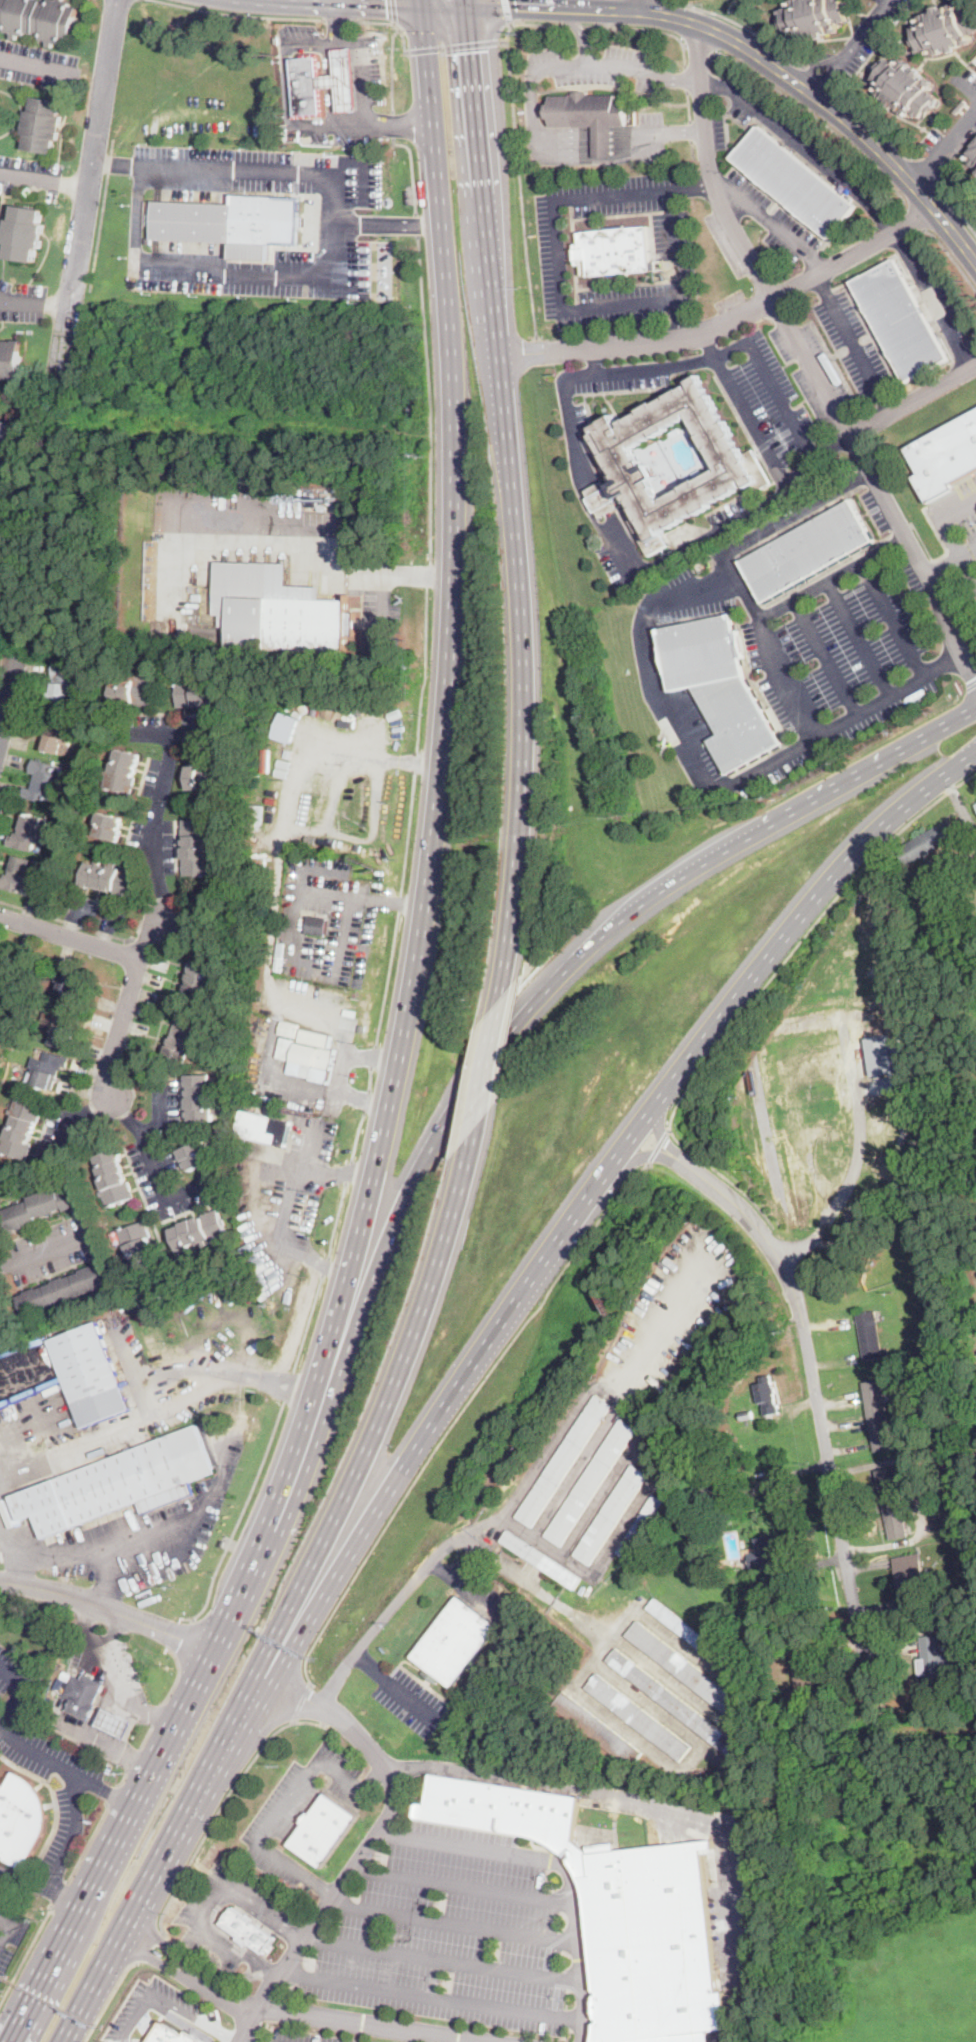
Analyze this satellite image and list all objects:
road: (497, 3)
road: (334, 4)
traffic signals: (514, 6)
road: (641, 6)
traffic signals: (385, 7)
road: (444, 10)
road: (487, 10)
road: (506, 11)
road: (243, 12)
road: (394, 12)
building: (814, 17)
road: (339, 18)
building: (40, 19)
road: (339, 22)
road: (391, 22)
road: (574, 25)
road: (576, 25)
road: (588, 25)
road: (740, 25)
road: (603, 26)
road: (599, 28)
building: (944, 29)
road: (659, 30)
road: (854, 39)
parking lot: (863, 41)
road: (359, 43)
road: (457, 46)
road: (699, 49)
traffic signals: (474, 51)
building: (975, 59)
parking lot: (39, 64)
road: (36, 65)
road: (774, 66)
parking lot: (598, 68)
road: (392, 69)
road: (531, 74)
road: (686, 76)
road: (672, 77)
road: (819, 77)
building: (344, 81)
gas station: (344, 81)
road: (286, 84)
road: (814, 84)
building: (307, 87)
building: (904, 88)
road: (966, 88)
road: (689, 105)
building: (960, 107)
building: (586, 110)
road: (818, 117)
road: (872, 120)
road: (331, 123)
road: (392, 124)
building: (42, 125)
road: (397, 125)
parking lot: (959, 127)
road: (592, 129)
road: (668, 131)
parking lot: (718, 132)
road: (591, 134)
parking lot: (796, 137)
parking lot: (650, 138)
building: (603, 141)
road: (591, 142)
building: (285, 146)
road: (805, 147)
road: (591, 148)
road: (946, 150)
road: (517, 151)
road: (590, 155)
building: (971, 155)
road: (113, 161)
road: (136, 164)
road: (237, 168)
road: (411, 168)
parking lot: (29, 173)
road: (924, 173)
road: (45, 177)
road: (485, 177)
building: (793, 182)
road: (693, 188)
road: (88, 192)
road: (717, 197)
road: (957, 212)
road: (136, 214)
road: (919, 217)
parking lot: (772, 220)
parking lot: (260, 221)
road: (387, 221)
road: (416, 222)
building: (233, 223)
road: (334, 224)
road: (772, 225)
road: (96, 229)
road: (378, 232)
building: (25, 234)
building: (615, 250)
parking lot: (553, 251)
road: (854, 254)
road: (954, 254)
parking lot: (676, 257)
road: (234, 270)
parking lot: (937, 293)
parking lot: (22, 300)
road: (679, 300)
road: (932, 300)
road: (36, 305)
road: (682, 316)
building: (899, 320)
road: (710, 342)
road: (854, 343)
road: (641, 344)
parking lot: (854, 345)
building: (10, 360)
road: (593, 361)
road: (429, 396)
road: (504, 399)
road: (914, 400)
parking lot: (774, 413)
parking lot: (573, 414)
road: (833, 445)
building: (4, 449)
building: (945, 453)
building: (739, 465)
road: (806, 465)
road: (875, 478)
road: (849, 484)
road: (595, 490)
building: (313, 503)
building: (323, 508)
parking lot: (879, 509)
parking lot: (731, 513)
road: (962, 516)
road: (923, 543)
road: (278, 547)
road: (887, 550)
building: (808, 551)
road: (952, 562)
parking lot: (625, 564)
road: (937, 569)
road: (410, 573)
road: (429, 573)
parking lot: (913, 574)
road: (744, 591)
road: (959, 609)
building: (279, 610)
road: (655, 612)
road: (756, 627)
road: (859, 639)
road: (827, 657)
parking lot: (815, 660)
road: (949, 661)
road: (425, 666)
building: (67, 682)
building: (719, 686)
road: (971, 688)
road: (8, 689)
building: (132, 692)
building: (197, 693)
road: (442, 715)
road: (525, 720)
building: (286, 727)
building: (58, 733)
road: (333, 747)
road: (414, 761)
road: (771, 763)
road: (870, 763)
building: (123, 771)
building: (203, 777)
building: (45, 782)
building: (975, 801)
building: (305, 809)
road: (959, 809)
building: (257, 812)
building: (109, 827)
building: (29, 833)
road: (406, 833)
building: (301, 835)
building: (927, 843)
building: (198, 847)
building: (257, 861)
road: (949, 875)
building: (20, 876)
building: (109, 879)
road: (398, 900)
road: (164, 920)
road: (66, 921)
building: (317, 924)
road: (295, 927)
road: (70, 938)
road: (772, 950)
building: (3, 960)
road: (386, 976)
building: (201, 981)
building: (73, 982)
road: (762, 992)
building: (351, 1013)
building: (61, 1024)
building: (289, 1028)
building: (315, 1037)
building: (185, 1042)
building: (285, 1048)
building: (880, 1053)
road: (372, 1055)
building: (313, 1062)
building: (286, 1064)
road: (489, 1064)
building: (49, 1068)
road: (477, 1074)
road: (369, 1077)
building: (200, 1097)
road: (365, 1100)
road: (157, 1107)
road: (75, 1118)
building: (262, 1127)
road: (658, 1128)
building: (21, 1129)
road: (670, 1131)
road: (356, 1136)
parking lot: (143, 1143)
road: (657, 1145)
road: (638, 1153)
road: (854, 1154)
building: (196, 1156)
road: (152, 1158)
road: (347, 1169)
building: (113, 1179)
parking lot: (285, 1197)
road: (288, 1204)
building: (42, 1207)
road: (335, 1217)
building: (199, 1232)
building: (139, 1244)
road: (40, 1253)
road: (324, 1264)
building: (64, 1290)
road: (307, 1321)
building: (870, 1335)
building: (91, 1374)
road: (165, 1375)
building: (929, 1376)
parking lot: (149, 1377)
road: (288, 1385)
building: (767, 1395)
road: (819, 1406)
road: (461, 1410)
road: (155, 1414)
building: (745, 1414)
building: (878, 1415)
road: (372, 1433)
road: (415, 1449)
building: (563, 1461)
building: (591, 1482)
building: (120, 1484)
building: (713, 1489)
building: (893, 1504)
road: (512, 1505)
building: (611, 1514)
road: (240, 1517)
road: (192, 1521)
building: (641, 1526)
parking lot: (144, 1533)
road: (18, 1546)
road: (88, 1554)
building: (768, 1557)
building: (540, 1559)
building: (752, 1561)
building: (910, 1578)
road: (462, 1589)
parking lot: (475, 1590)
road: (107, 1608)
road: (112, 1626)
building: (693, 1636)
road: (184, 1637)
building: (454, 1643)
building: (932, 1660)
building: (681, 1667)
building: (804, 1668)
road: (177, 1673)
road: (395, 1685)
road: (18, 1690)
road: (107, 1692)
building: (82, 1695)
road: (299, 1699)
parking lot: (412, 1702)
building: (791, 1704)
road: (141, 1705)
building: (677, 1706)
road: (154, 1712)
building: (637, 1717)
building: (116, 1723)
gas station: (116, 1723)
building: (596, 1729)
road: (144, 1734)
road: (166, 1736)
road: (132, 1757)
road: (45, 1758)
parking lot: (44, 1759)
road: (122, 1776)
road: (112, 1792)
road: (113, 1793)
road: (220, 1802)
road: (663, 1808)
road: (284, 1809)
parking lot: (300, 1812)
building: (21, 1819)
building: (325, 1830)
road: (374, 1840)
road: (87, 1841)
road: (63, 1856)
road: (558, 1867)
parking lot: (7, 1878)
road: (153, 1885)
road: (463, 1886)
road: (66, 1890)
road: (58, 1891)
road: (209, 1900)
building: (617, 1912)
parking lot: (193, 1919)
road: (5, 1920)
road: (455, 1922)
road: (5, 1931)
building: (250, 1932)
road: (162, 1942)
road: (148, 1945)
parking lot: (446, 1949)
road: (24, 1952)
road: (153, 1955)
parking lot: (4, 1957)
road: (443, 1957)
road: (222, 1991)
road: (431, 1996)
road: (109, 1999)
road: (164, 2001)
parking lot: (186, 2007)
road: (372, 2026)
building: (171, 2035)
road: (1, 2041)

